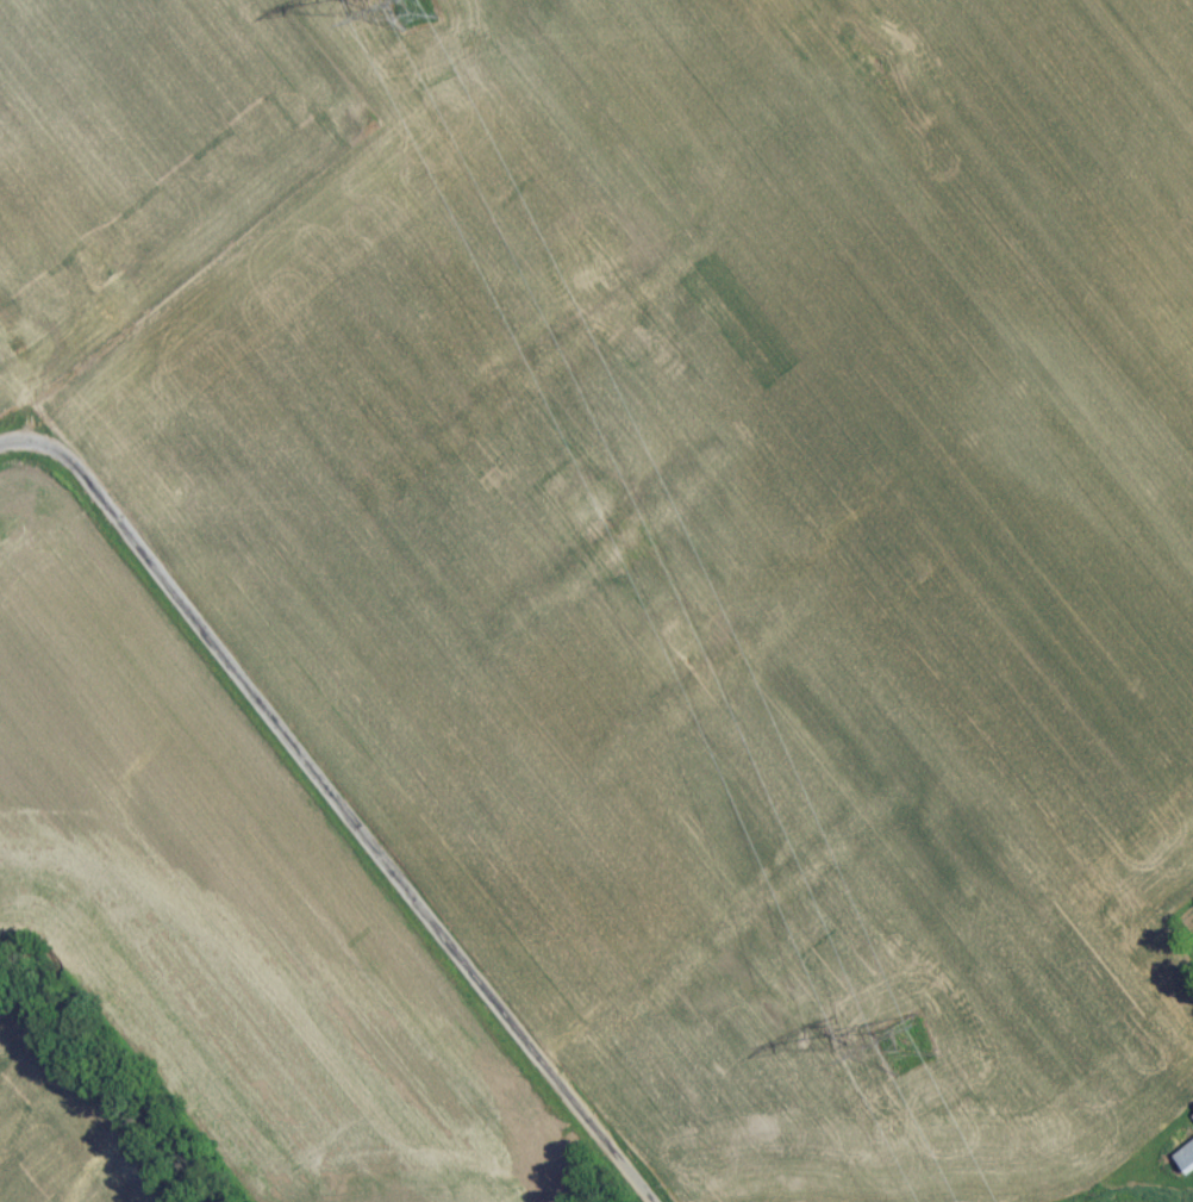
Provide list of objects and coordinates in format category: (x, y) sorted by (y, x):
power tower: (414, 14)
road: (17, 450)
road: (349, 818)
power tower: (904, 1052)
building: (1187, 1161)

